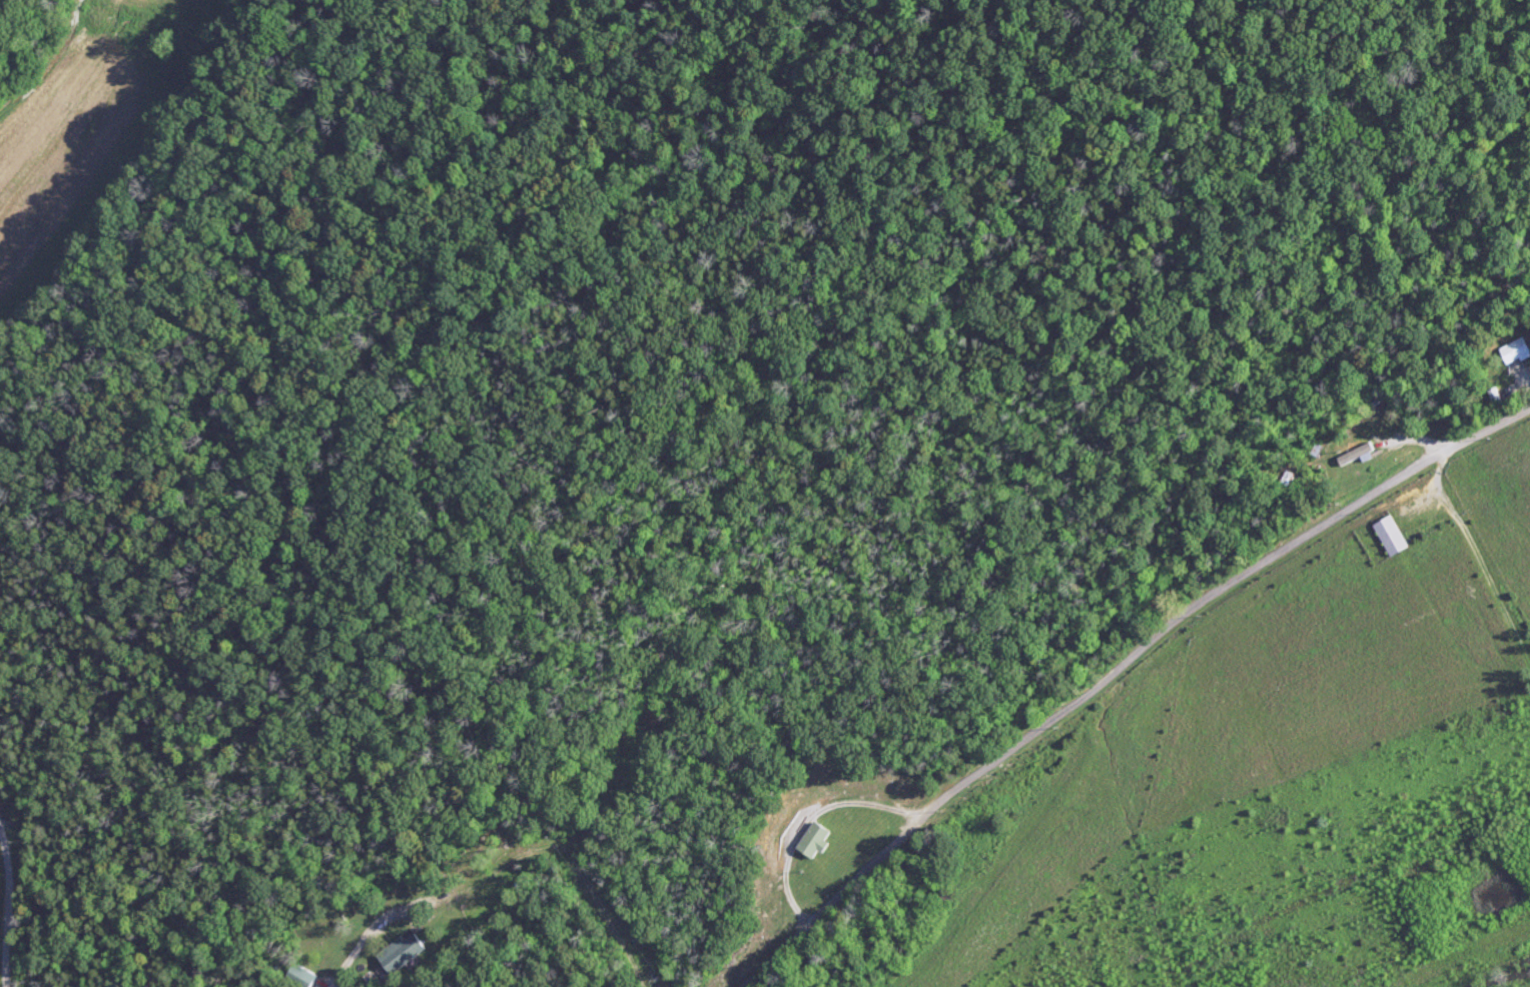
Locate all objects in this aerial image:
building: (1516, 352)
building: (1358, 456)
building: (1393, 538)
road: (1478, 556)
road: (1116, 669)
building: (817, 841)
building: (402, 954)
building: (301, 976)

